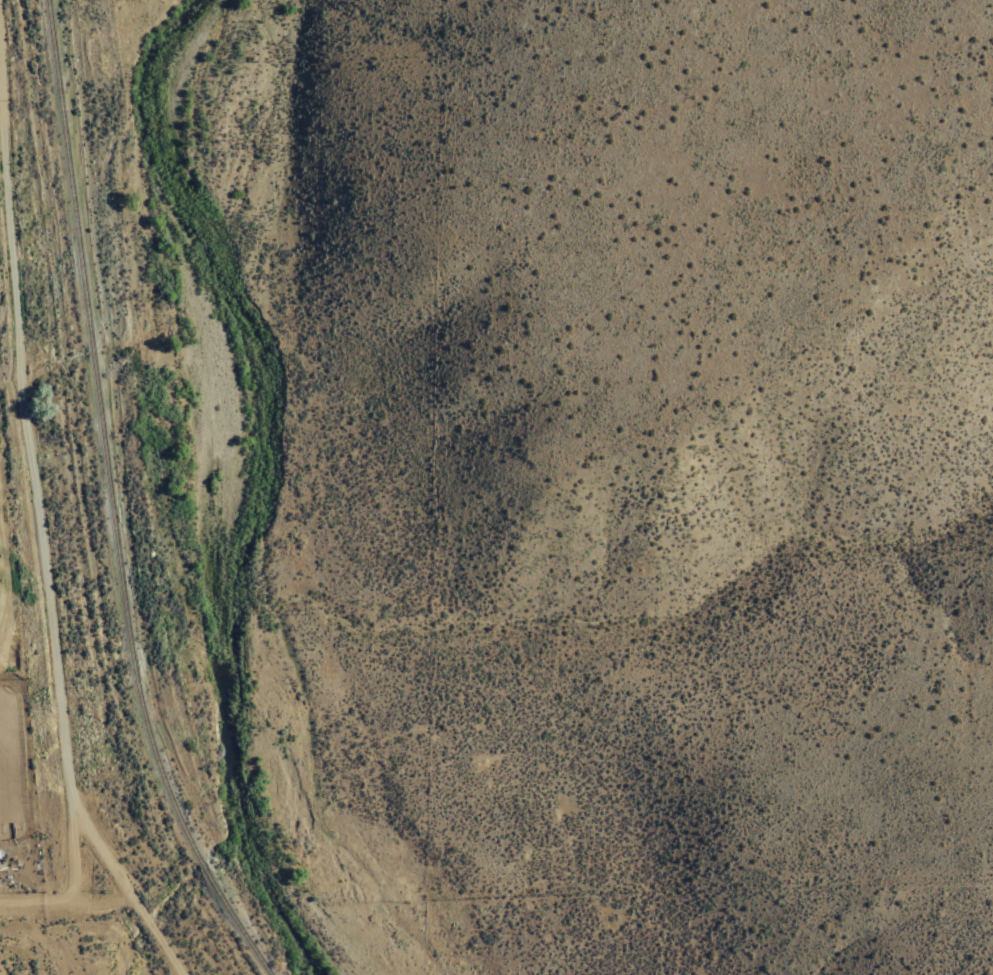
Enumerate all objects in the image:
railway: (110, 502)
road: (41, 530)
crop: (94, 587)
crop: (446, 791)
road: (66, 895)
road: (213, 960)

